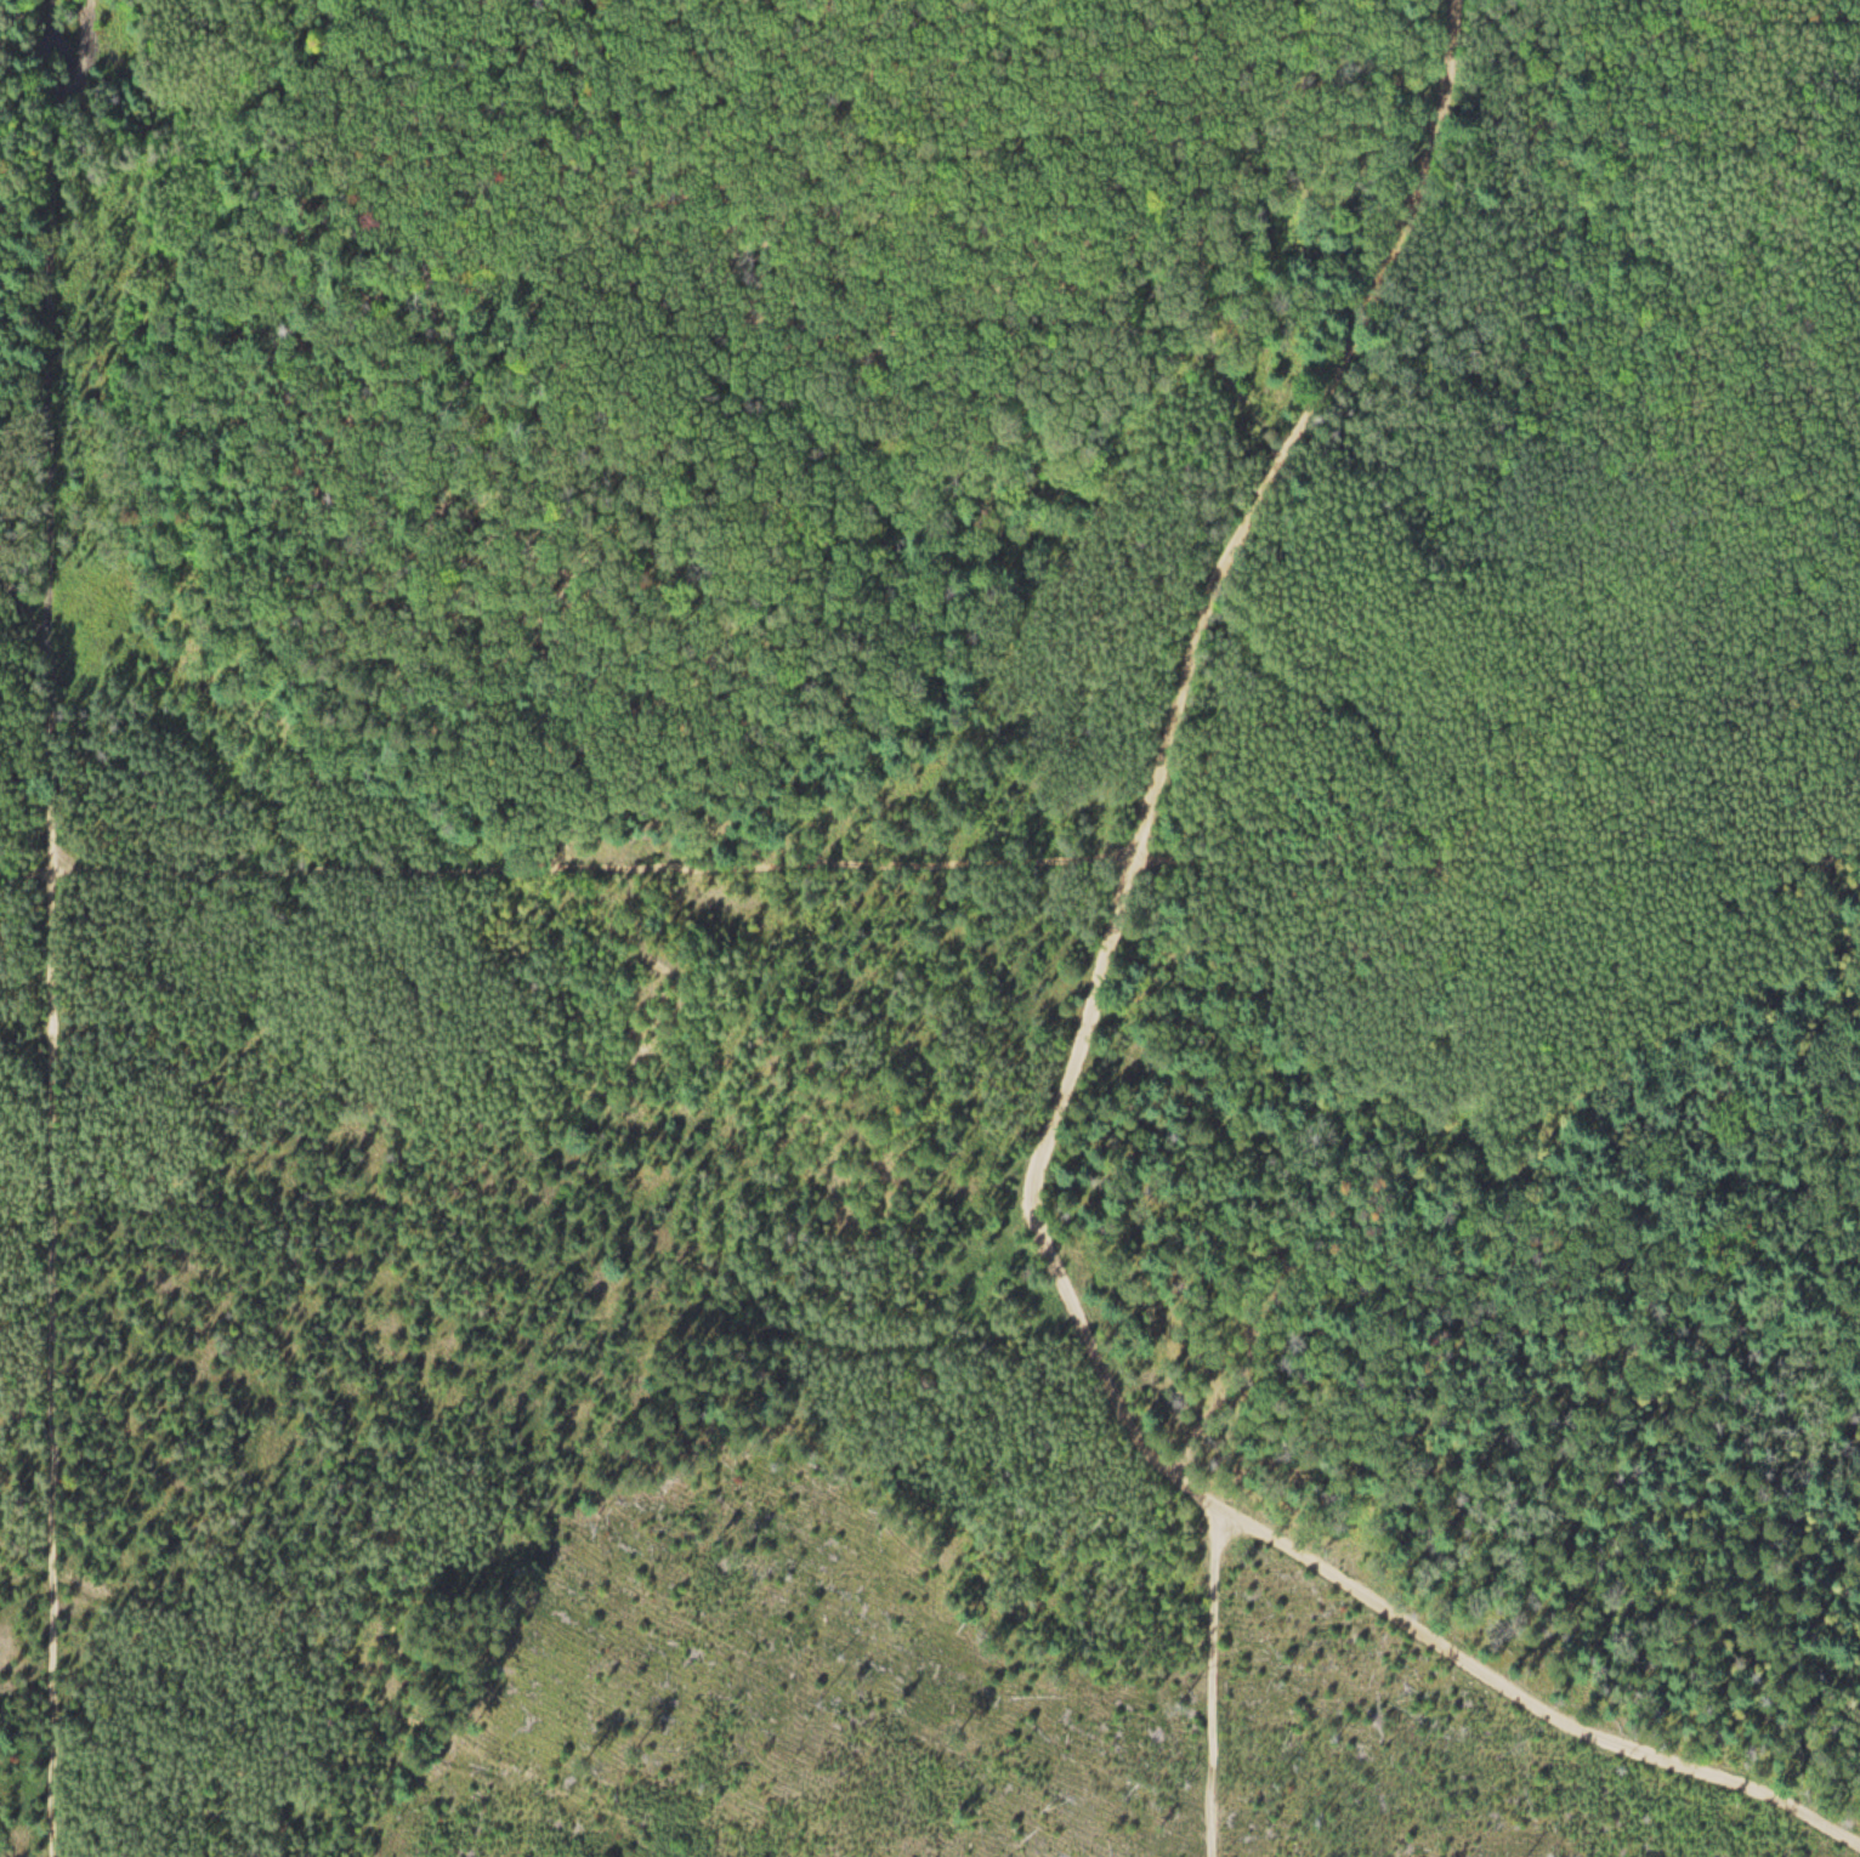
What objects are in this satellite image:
road: (1232, 564)
road: (1497, 861)
road: (567, 874)
road: (50, 1211)
road: (24, 1573)
road: (1361, 1577)

